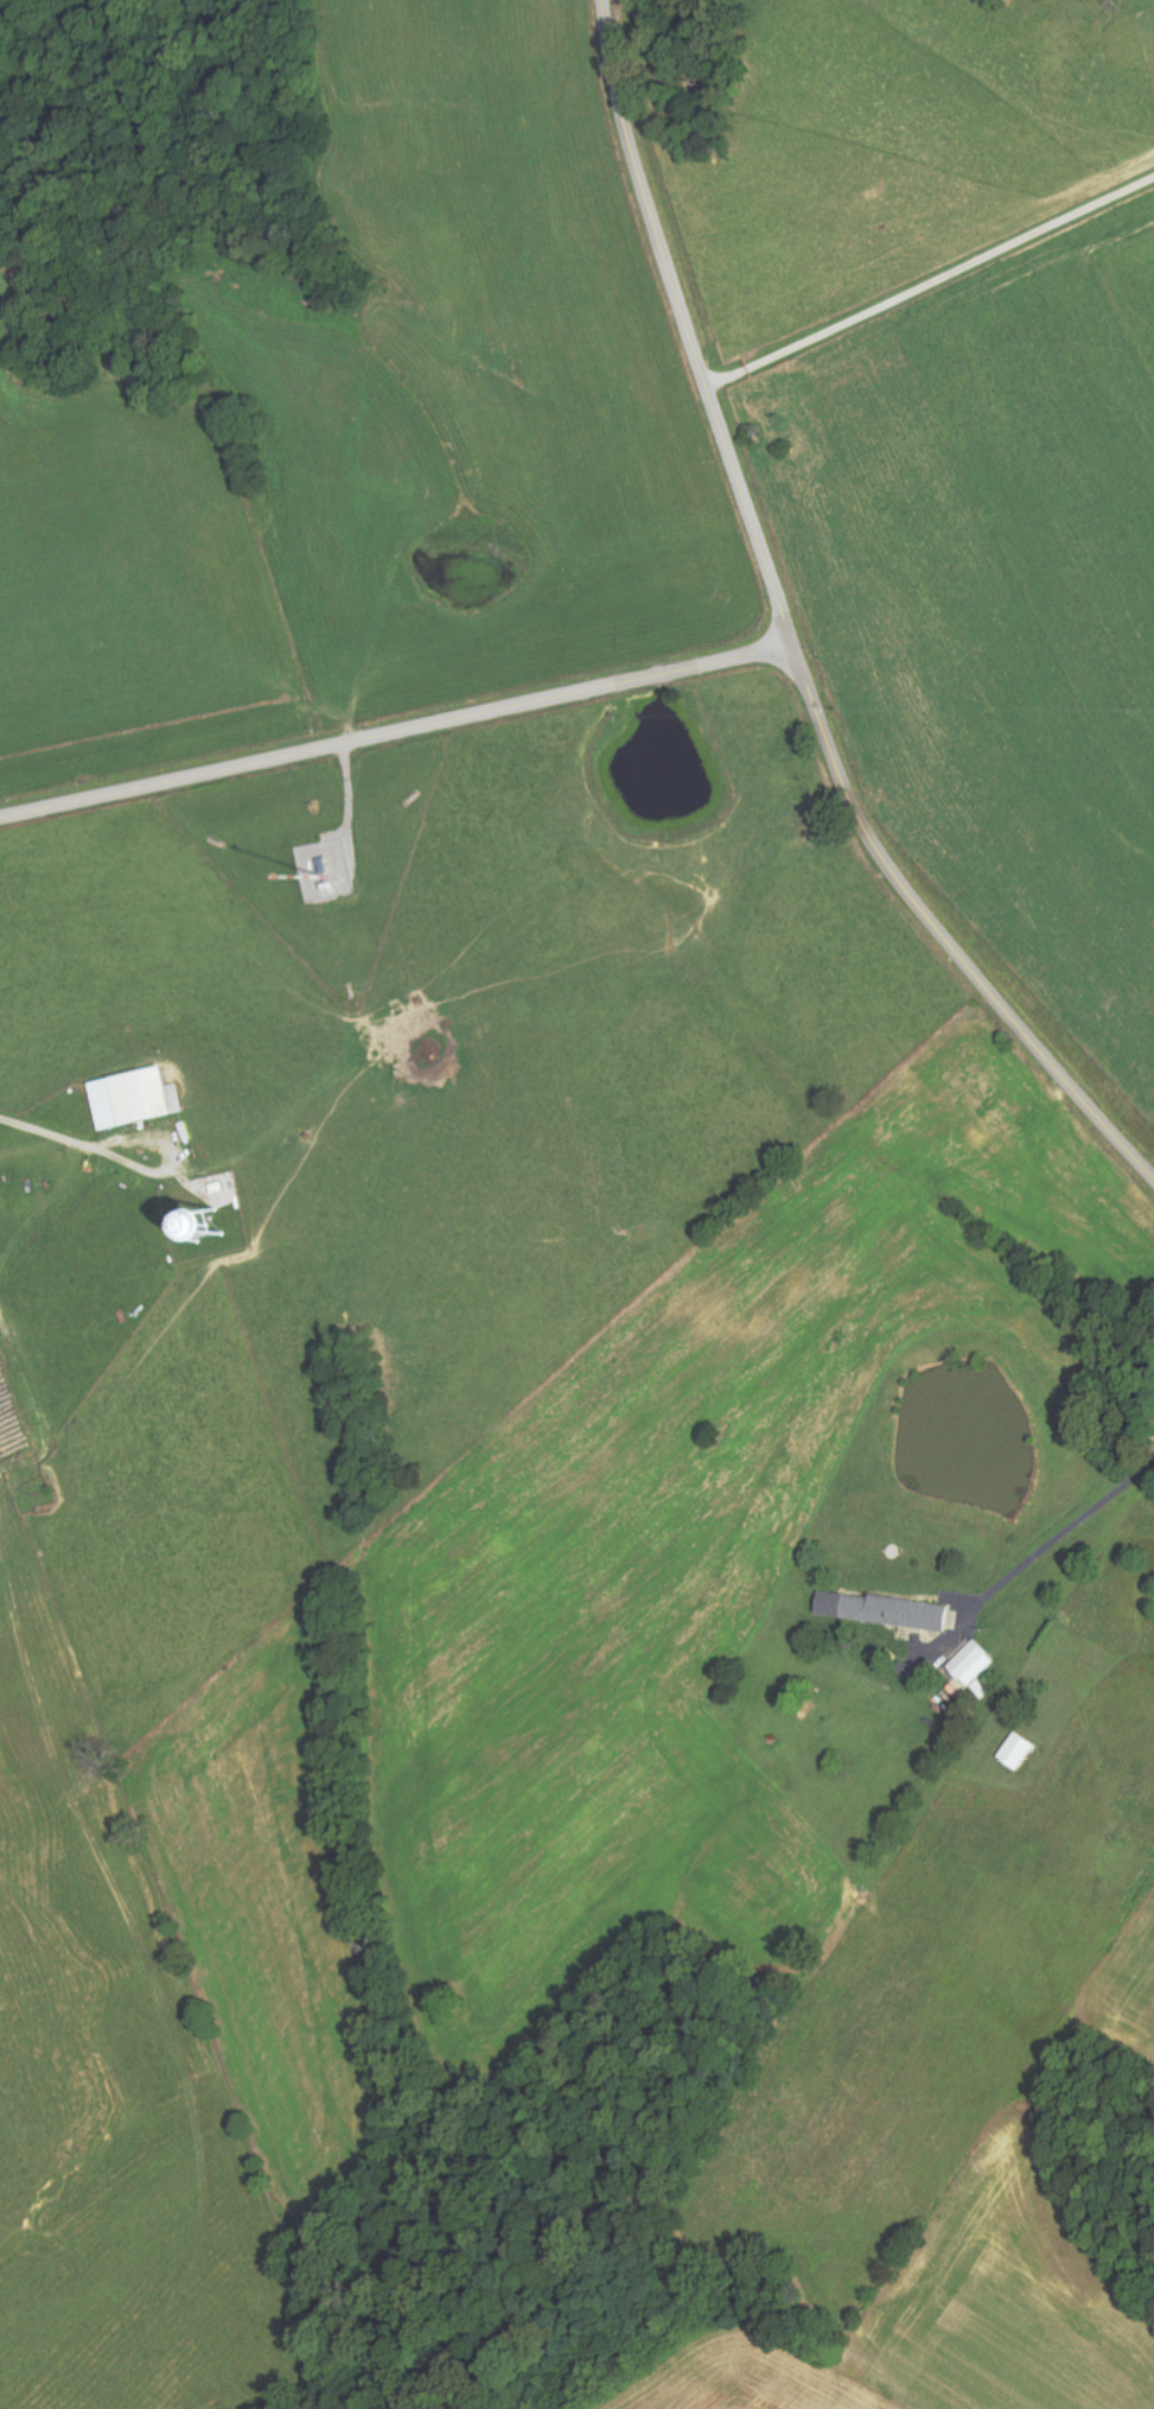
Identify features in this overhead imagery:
road: (924, 268)
road: (686, 326)
road: (397, 733)
road: (939, 934)
building: (139, 1098)
road: (45, 1132)
road: (1059, 1542)
building: (888, 1612)
building: (976, 1664)
building: (1021, 1752)

